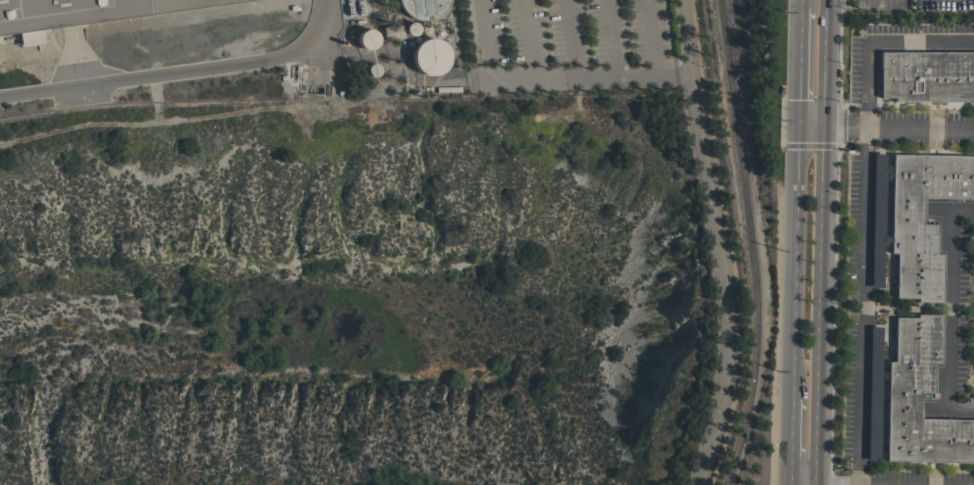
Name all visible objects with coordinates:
road: (800, 5)
building: (421, 8)
storage tank: (421, 8)
building: (82, 11)
building: (411, 28)
storage tank: (411, 28)
building: (391, 31)
road: (650, 37)
building: (366, 38)
storage tank: (366, 38)
road: (569, 38)
road: (612, 38)
road: (486, 39)
road: (530, 39)
parking lot: (567, 45)
building: (429, 56)
storage tank: (429, 56)
road: (798, 68)
building: (372, 69)
storage tank: (372, 69)
road: (181, 72)
building: (926, 76)
road: (559, 77)
road: (885, 127)
road: (865, 212)
building: (912, 238)
road: (822, 242)
road: (719, 243)
railway: (753, 243)
road: (794, 261)
road: (947, 311)
building: (909, 377)
road: (972, 407)
road: (791, 440)
road: (789, 484)
road: (804, 484)

